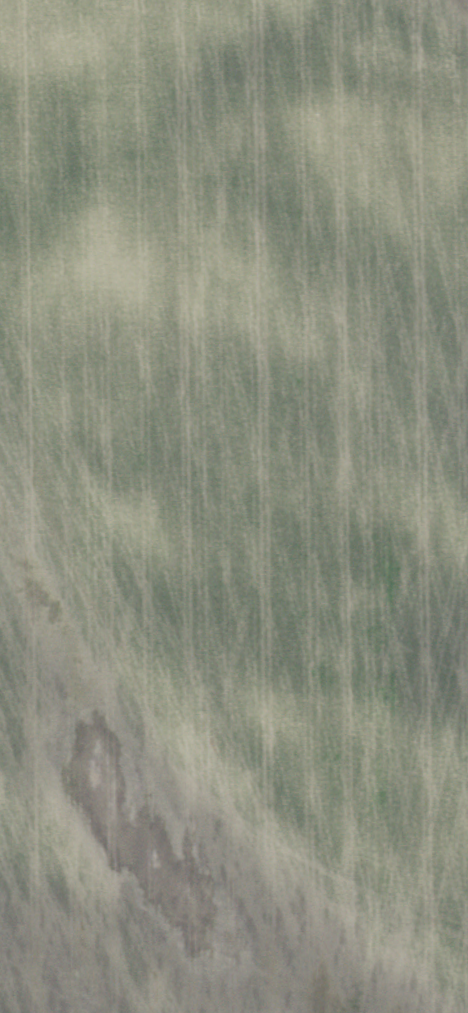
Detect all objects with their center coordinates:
crop: (234, 506)

